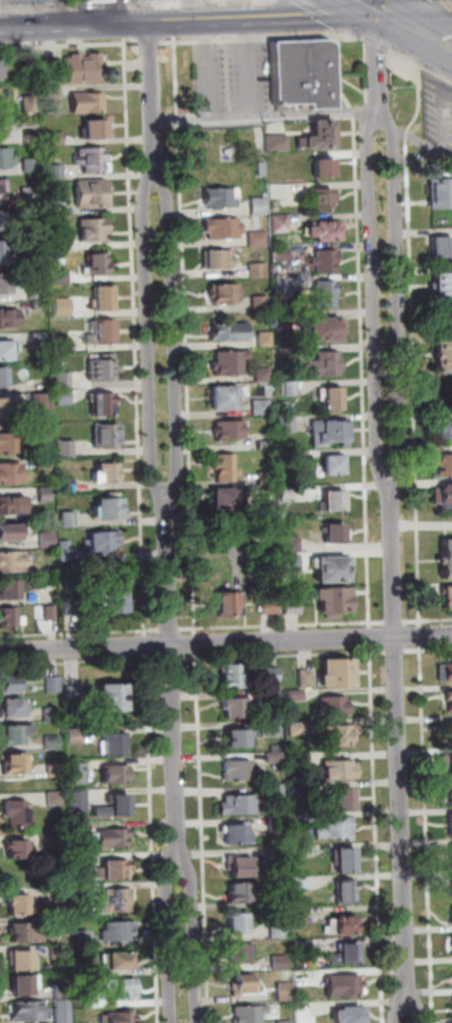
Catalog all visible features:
building: (92, 0)
parking lot: (115, 0)
road: (131, 3)
road: (363, 6)
road: (373, 6)
road: (413, 9)
traffic signals: (374, 12)
road: (56, 13)
road: (320, 13)
road: (0, 18)
road: (187, 21)
road: (174, 29)
road: (123, 31)
road: (413, 32)
road: (352, 36)
road: (253, 38)
road: (374, 42)
road: (148, 43)
road: (69, 45)
road: (375, 64)
road: (418, 66)
building: (2, 67)
building: (84, 67)
road: (250, 67)
building: (53, 70)
road: (204, 70)
building: (28, 73)
road: (333, 74)
building: (300, 75)
parking lot: (232, 78)
building: (52, 92)
building: (1, 97)
road: (151, 97)
road: (416, 99)
building: (87, 101)
building: (29, 103)
road: (350, 113)
parking lot: (436, 113)
road: (264, 116)
road: (383, 123)
building: (4, 127)
building: (95, 129)
building: (318, 133)
road: (404, 135)
building: (31, 138)
building: (55, 139)
building: (275, 142)
road: (420, 144)
building: (5, 158)
building: (92, 160)
building: (30, 165)
building: (321, 168)
building: (259, 169)
building: (54, 172)
building: (2, 190)
building: (277, 191)
building: (436, 193)
building: (92, 194)
building: (30, 195)
building: (219, 197)
building: (318, 199)
building: (256, 206)
building: (54, 207)
building: (4, 220)
building: (277, 223)
building: (221, 228)
building: (92, 229)
building: (322, 229)
building: (255, 239)
building: (59, 242)
building: (437, 245)
building: (5, 252)
building: (279, 254)
building: (216, 259)
building: (322, 261)
building: (35, 262)
building: (96, 264)
building: (255, 270)
building: (59, 276)
building: (8, 282)
building: (439, 284)
building: (281, 287)
building: (35, 293)
building: (222, 293)
building: (321, 294)
building: (102, 298)
road: (371, 303)
building: (38, 304)
building: (258, 304)
building: (61, 307)
road: (396, 312)
building: (8, 317)
building: (281, 322)
building: (321, 328)
building: (101, 332)
building: (228, 332)
road: (173, 334)
road: (146, 335)
road: (184, 335)
road: (134, 338)
building: (263, 339)
building: (39, 340)
building: (60, 343)
building: (7, 348)
building: (295, 351)
building: (442, 352)
building: (228, 363)
building: (323, 365)
building: (102, 368)
road: (361, 373)
building: (261, 374)
building: (3, 377)
building: (62, 380)
road: (412, 384)
building: (290, 389)
building: (62, 397)
building: (222, 397)
building: (330, 399)
building: (39, 402)
building: (100, 404)
building: (259, 407)
building: (3, 408)
building: (285, 425)
building: (444, 429)
building: (227, 430)
building: (41, 432)
building: (328, 432)
building: (107, 435)
building: (9, 443)
building: (263, 445)
building: (65, 449)
building: (289, 458)
building: (43, 463)
building: (444, 464)
building: (330, 465)
building: (225, 468)
building: (106, 472)
building: (10, 473)
building: (265, 479)
building: (66, 485)
building: (287, 493)
building: (44, 494)
building: (442, 496)
building: (223, 499)
building: (331, 501)
building: (11, 505)
building: (110, 508)
building: (68, 519)
building: (9, 532)
building: (335, 534)
building: (47, 540)
building: (102, 540)
building: (291, 544)
building: (65, 551)
building: (445, 557)
building: (11, 561)
building: (290, 562)
building: (332, 567)
building: (70, 585)
building: (8, 589)
building: (447, 595)
building: (114, 599)
building: (334, 600)
building: (229, 603)
building: (70, 604)
building: (268, 605)
building: (292, 606)
building: (50, 613)
building: (9, 618)
road: (428, 621)
road: (394, 622)
road: (282, 626)
road: (169, 629)
road: (80, 633)
road: (420, 636)
road: (423, 636)
road: (370, 638)
road: (197, 643)
road: (196, 644)
road: (146, 646)
road: (428, 650)
road: (395, 652)
road: (283, 656)
road: (171, 660)
road: (80, 663)
building: (338, 672)
building: (444, 672)
building: (271, 675)
building: (230, 676)
building: (306, 679)
building: (11, 683)
road: (171, 684)
building: (53, 685)
building: (73, 693)
building: (295, 695)
building: (112, 697)
building: (272, 698)
building: (449, 700)
building: (13, 707)
building: (233, 707)
building: (332, 707)
building: (51, 714)
building: (273, 729)
building: (296, 729)
building: (451, 731)
building: (15, 733)
building: (339, 735)
building: (74, 736)
building: (238, 738)
building: (52, 742)
building: (114, 743)
road: (399, 748)
building: (274, 757)
building: (298, 760)
building: (447, 762)
building: (15, 763)
building: (55, 770)
building: (339, 770)
building: (236, 771)
building: (79, 773)
building: (115, 774)
building: (297, 790)
building: (276, 791)
building: (451, 795)
building: (55, 798)
building: (343, 800)
building: (78, 801)
building: (238, 805)
building: (115, 806)
building: (16, 812)
building: (298, 821)
building: (277, 823)
building: (451, 824)
building: (78, 826)
building: (336, 828)
road: (427, 833)
building: (238, 834)
road: (377, 835)
building: (111, 837)
road: (153, 838)
road: (202, 838)
building: (54, 840)
building: (17, 848)
building: (451, 851)
building: (299, 852)
building: (278, 856)
building: (80, 860)
building: (346, 860)
building: (240, 864)
building: (116, 869)
building: (299, 883)
building: (450, 885)
building: (81, 891)
building: (345, 891)
building: (241, 892)
building: (281, 899)
building: (119, 900)
building: (18, 904)
building: (302, 914)
building: (450, 916)
building: (238, 923)
building: (342, 924)
building: (57, 925)
building: (119, 930)
building: (278, 930)
building: (19, 932)
building: (80, 937)
road: (168, 943)
road: (192, 943)
building: (451, 944)
building: (303, 945)
building: (58, 952)
building: (240, 953)
building: (346, 954)
building: (22, 960)
building: (120, 960)
building: (279, 962)
building: (83, 970)
building: (242, 984)
building: (22, 985)
building: (343, 986)
building: (123, 989)
building: (61, 991)
building: (284, 991)
building: (90, 1000)
road: (408, 1006)
building: (304, 1010)
building: (27, 1011)
building: (62, 1011)
building: (249, 1014)
building: (351, 1015)
building: (120, 1017)
building: (285, 1022)

